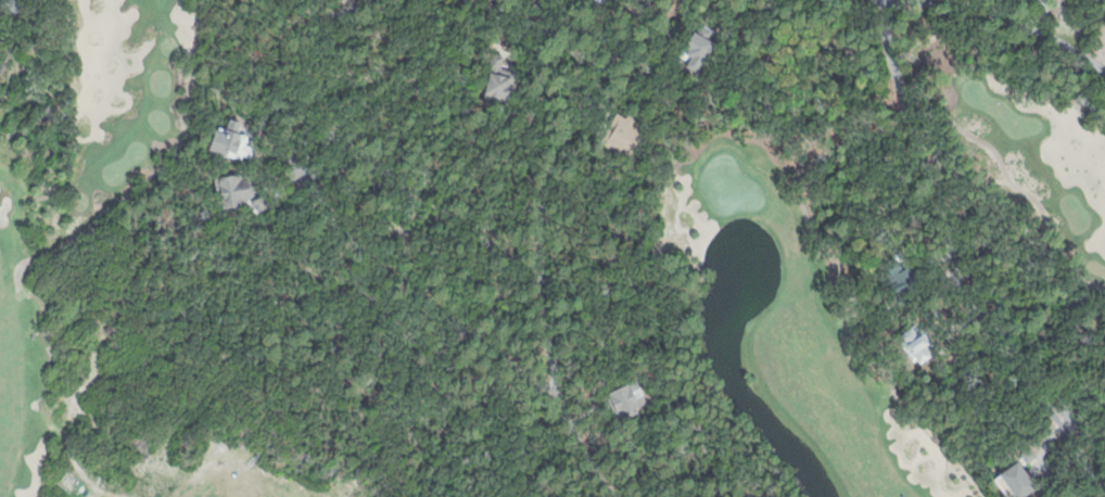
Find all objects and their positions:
road: (338, 12)
road: (1004, 16)
road: (563, 18)
building: (664, 41)
building: (699, 43)
building: (497, 77)
building: (625, 138)
building: (237, 190)
road: (539, 244)
road: (952, 262)
building: (901, 270)
road: (426, 291)
building: (919, 343)
building: (626, 396)

